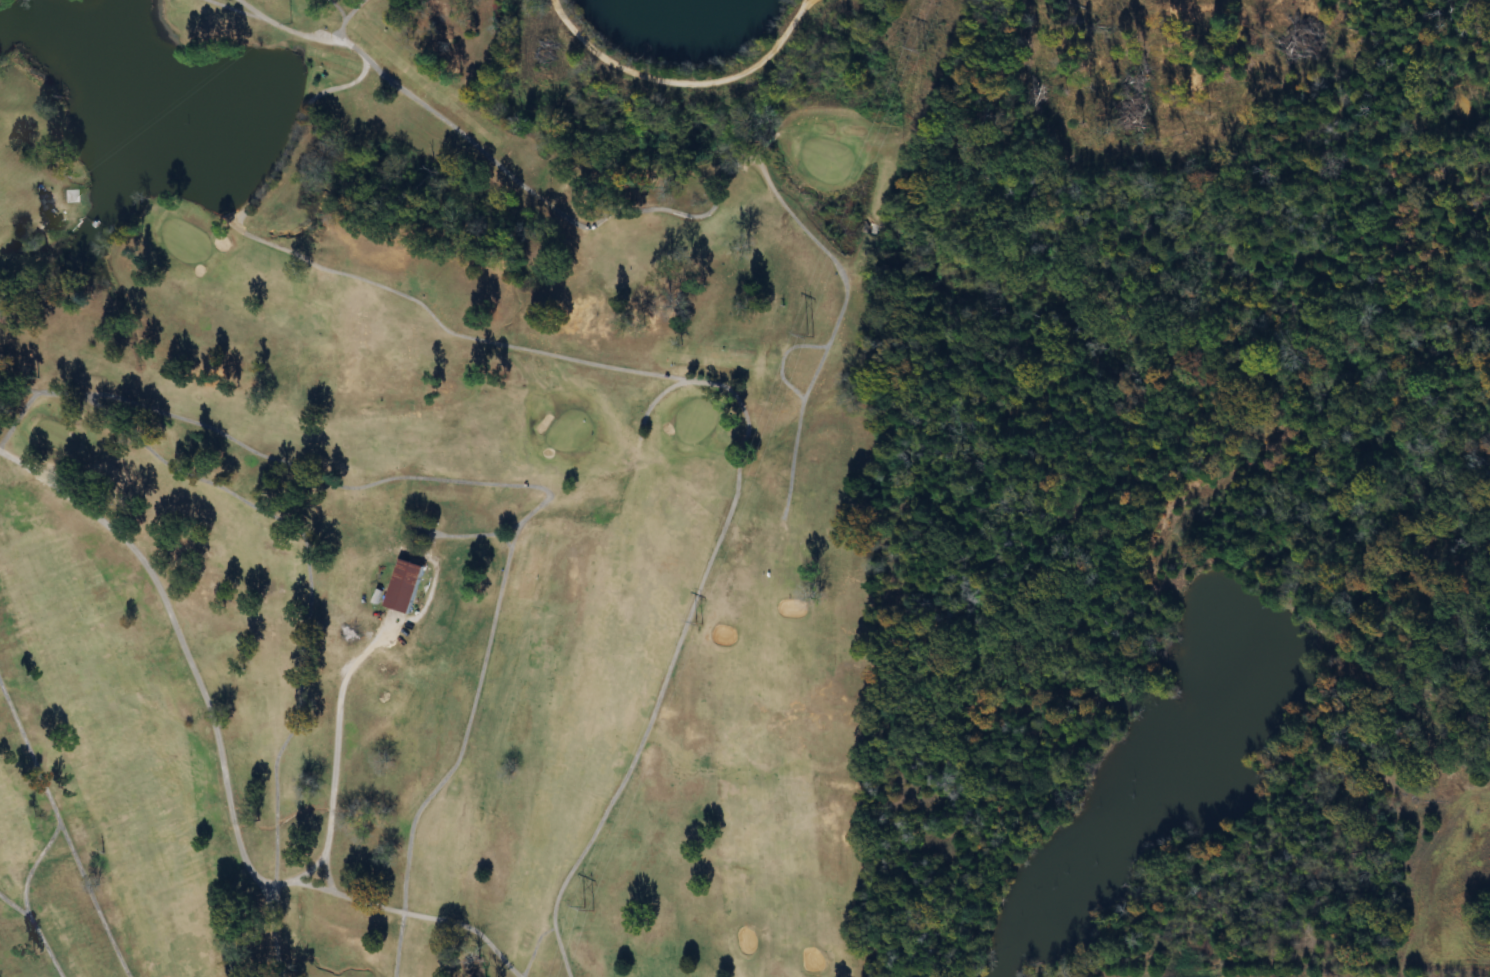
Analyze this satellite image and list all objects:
road: (666, 82)
building: (407, 585)

